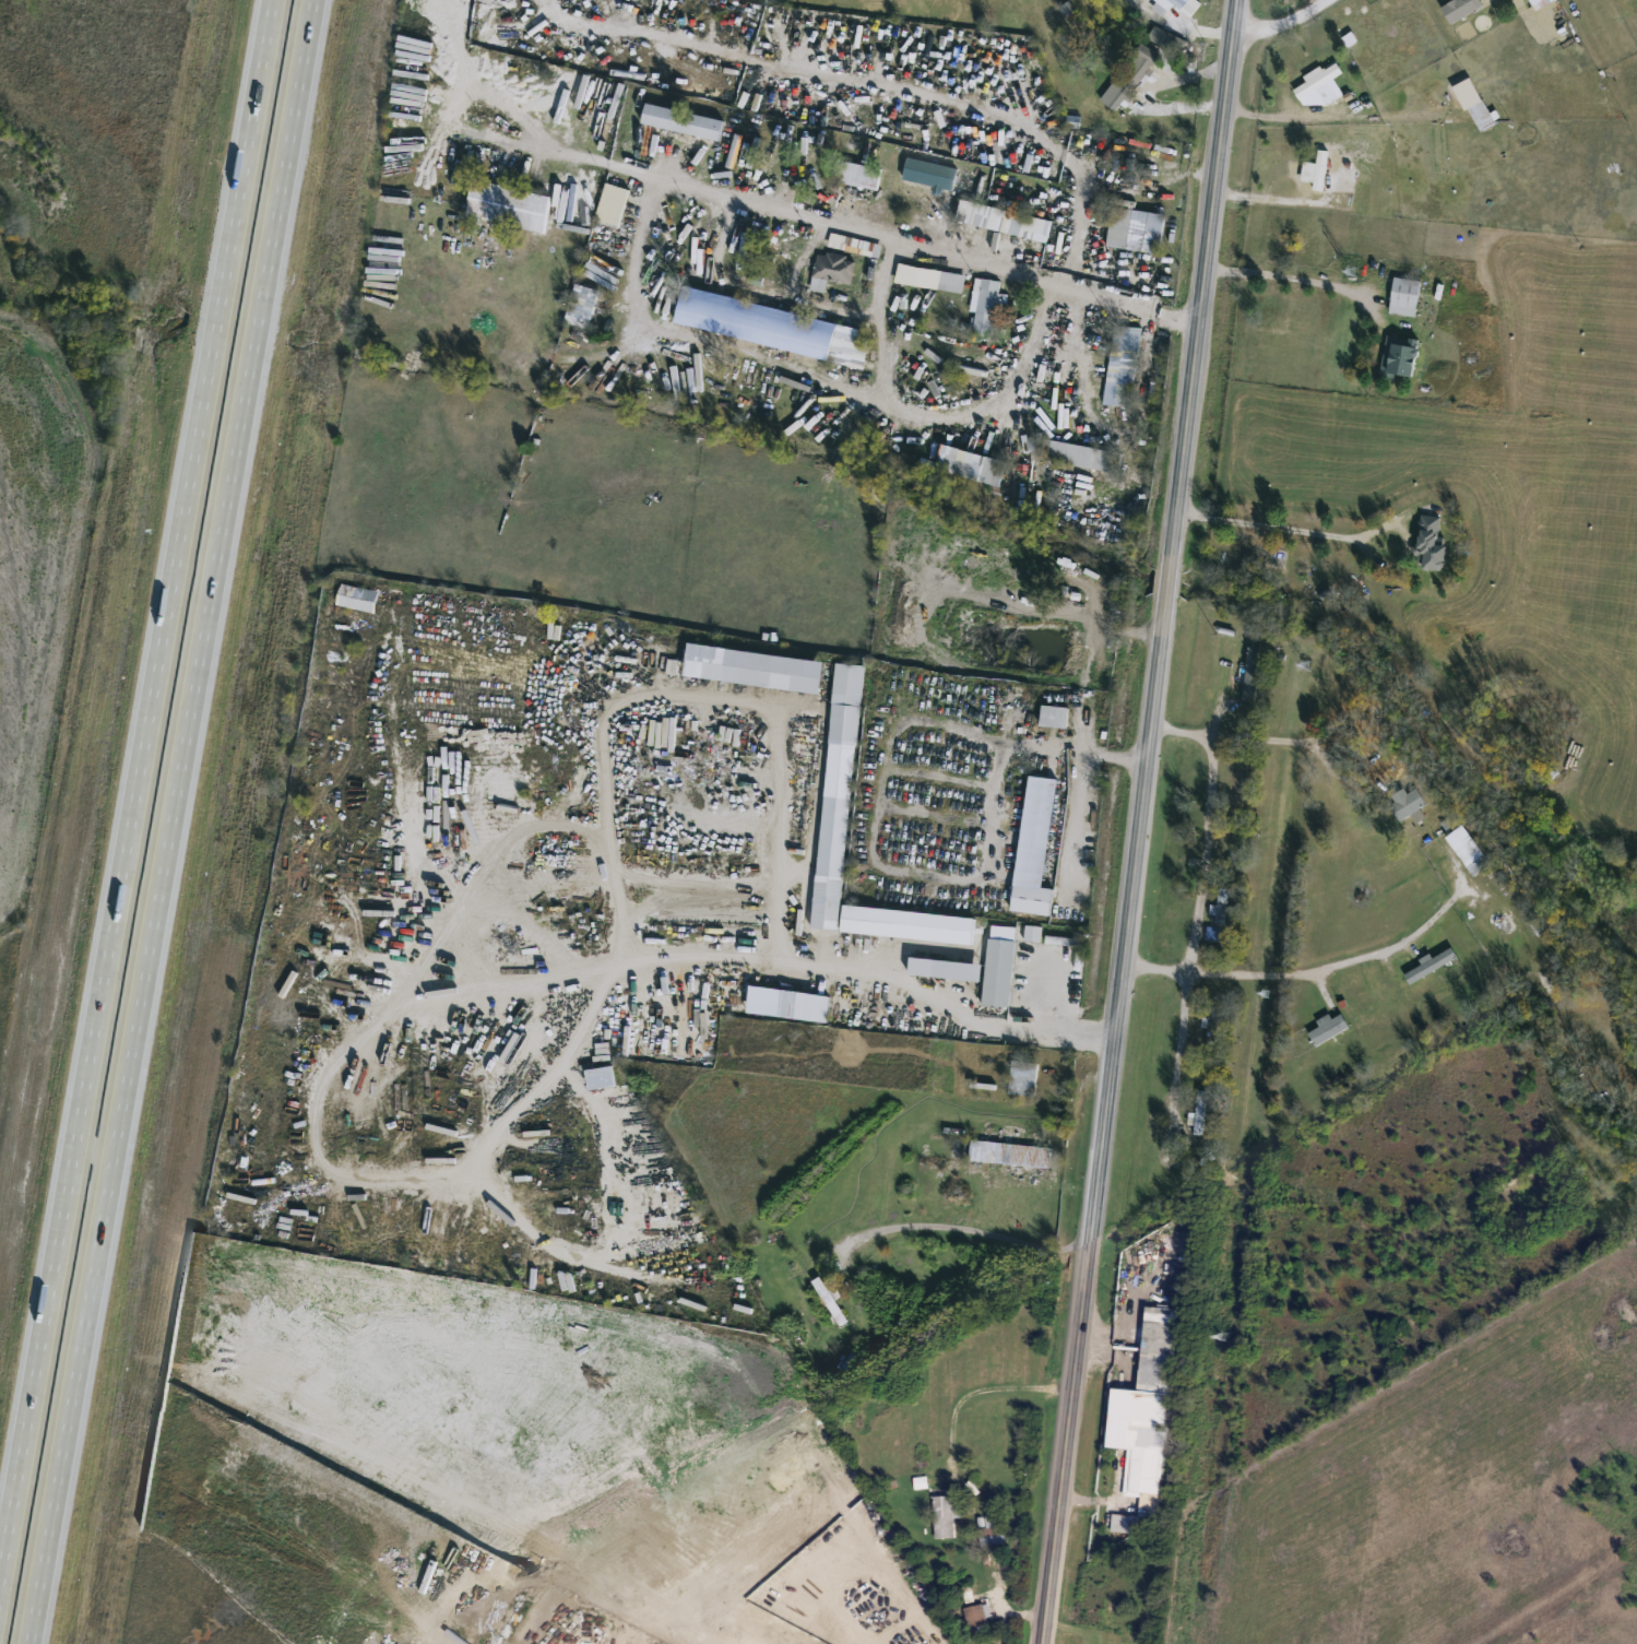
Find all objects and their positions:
building: (1535, 2)
building: (1186, 4)
building: (1460, 7)
road: (1232, 16)
road: (1284, 24)
road: (1176, 28)
building: (13, 31)
road: (1185, 73)
building: (1132, 75)
building: (1023, 81)
building: (1320, 81)
building: (1481, 111)
building: (681, 119)
road: (1013, 126)
road: (589, 161)
building: (856, 173)
road: (1270, 192)
building: (507, 203)
building: (612, 203)
building: (1003, 218)
building: (1136, 228)
building: (854, 243)
road: (923, 244)
building: (833, 265)
power tower: (1352, 270)
building: (929, 276)
road: (1288, 279)
building: (1404, 294)
building: (581, 303)
building: (986, 305)
road: (881, 315)
building: (772, 324)
road: (1040, 335)
building: (1399, 355)
building: (1122, 364)
road: (1154, 377)
road: (950, 421)
building: (1080, 452)
building: (971, 461)
road: (1288, 529)
building: (1430, 540)
building: (1070, 577)
building: (357, 595)
road: (1131, 632)
power tower: (1305, 662)
building: (752, 665)
building: (1252, 670)
road: (743, 701)
building: (1049, 713)
road: (1283, 744)
road: (1001, 745)
road: (1126, 757)
building: (1236, 786)
building: (837, 794)
road: (137, 801)
building: (1405, 801)
road: (1073, 820)
road: (166, 821)
railway: (1281, 821)
road: (1137, 838)
building: (1464, 842)
road: (1206, 855)
building: (1220, 901)
building: (908, 922)
building: (1063, 938)
building: (1432, 961)
building: (998, 963)
road: (1307, 969)
road: (1058, 992)
power tower: (1266, 992)
building: (807, 1003)
building: (1328, 1025)
road: (1065, 1031)
road: (1179, 1050)
building: (600, 1075)
building: (1022, 1075)
building: (1200, 1110)
building: (1009, 1151)
road: (963, 1227)
building: (820, 1284)
power tower: (1225, 1337)
road: (983, 1391)
building: (1148, 1421)
building: (794, 1502)
building: (945, 1516)
building: (993, 1528)
building: (804, 1578)
road: (897, 1578)
road: (1005, 1607)
road: (699, 1610)

